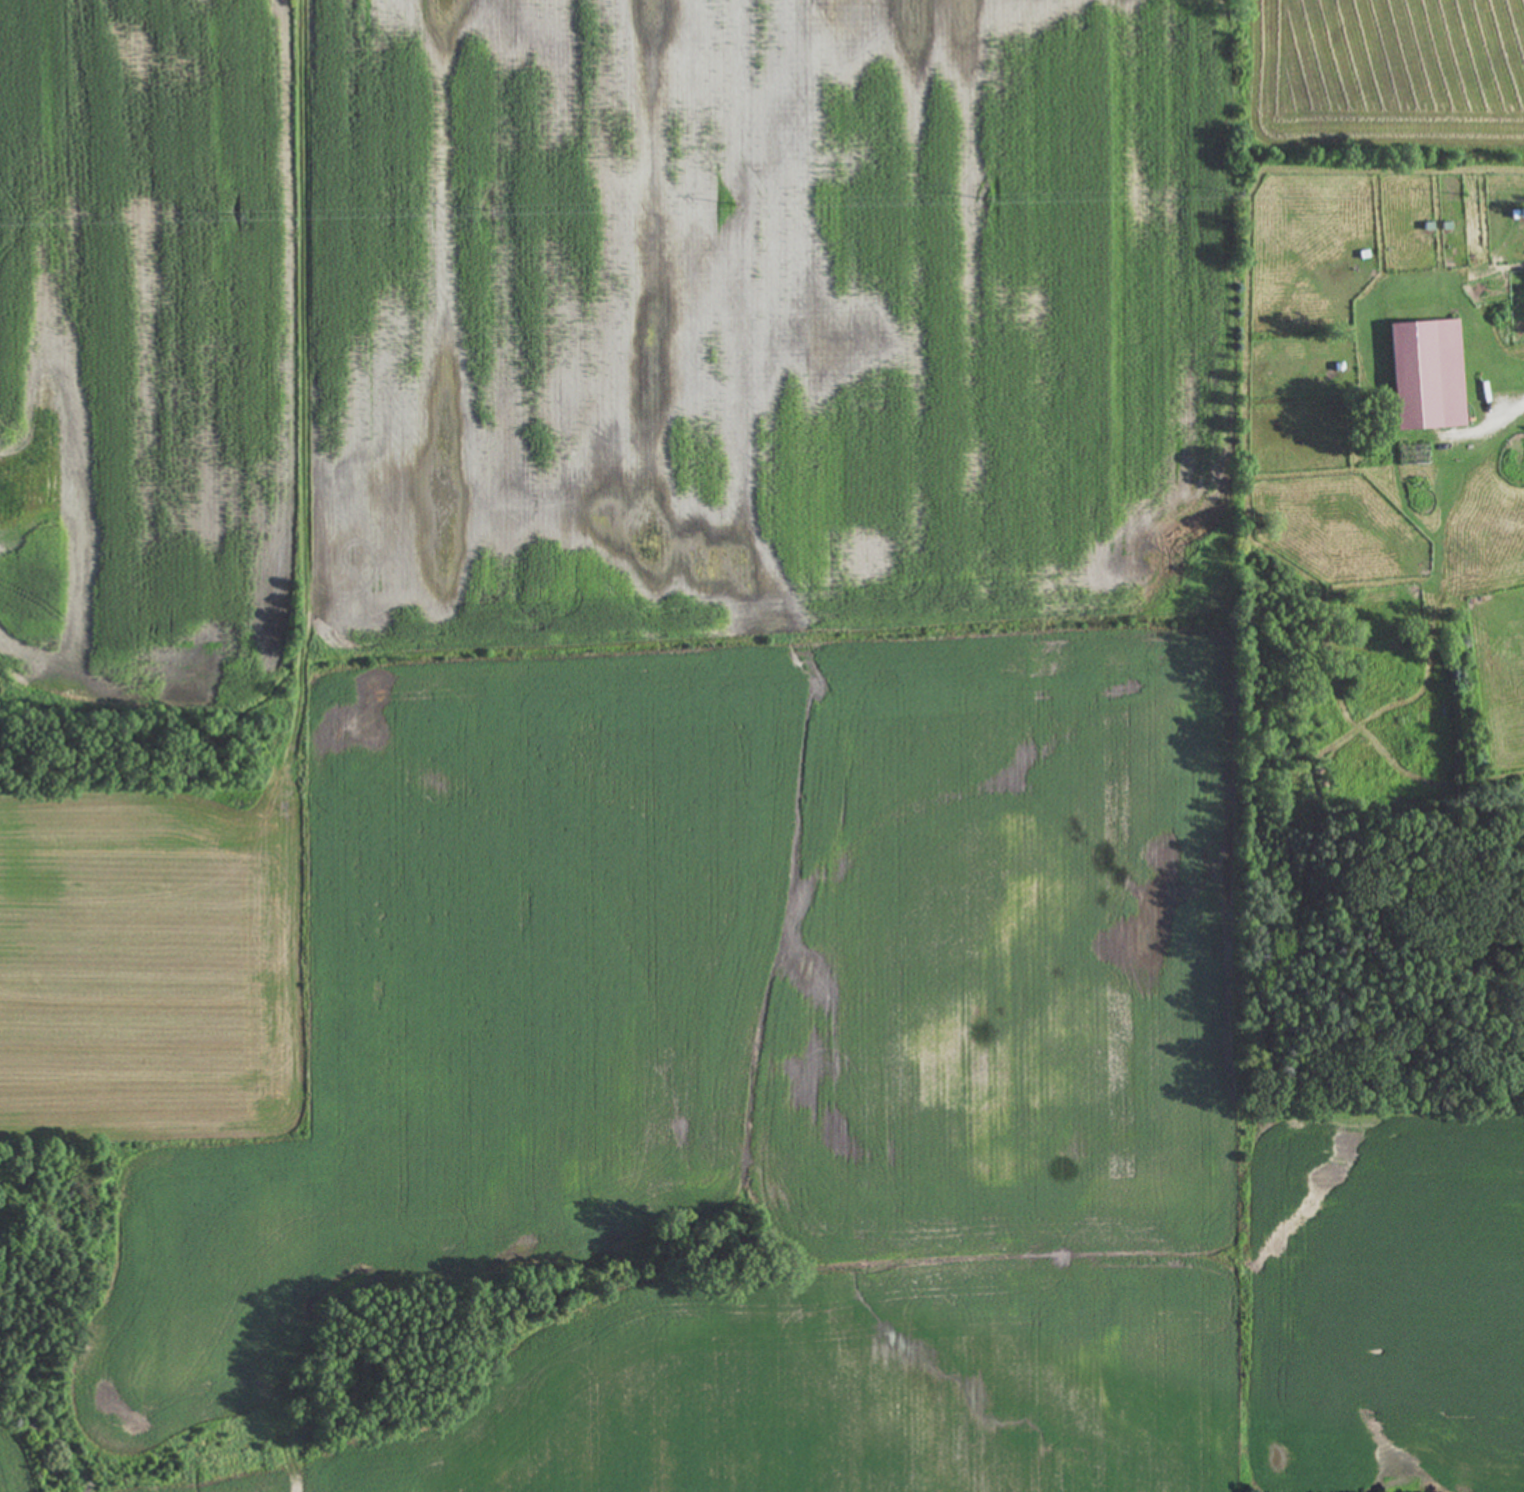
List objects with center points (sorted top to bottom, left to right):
building: (1423, 376)
road: (1521, 408)

